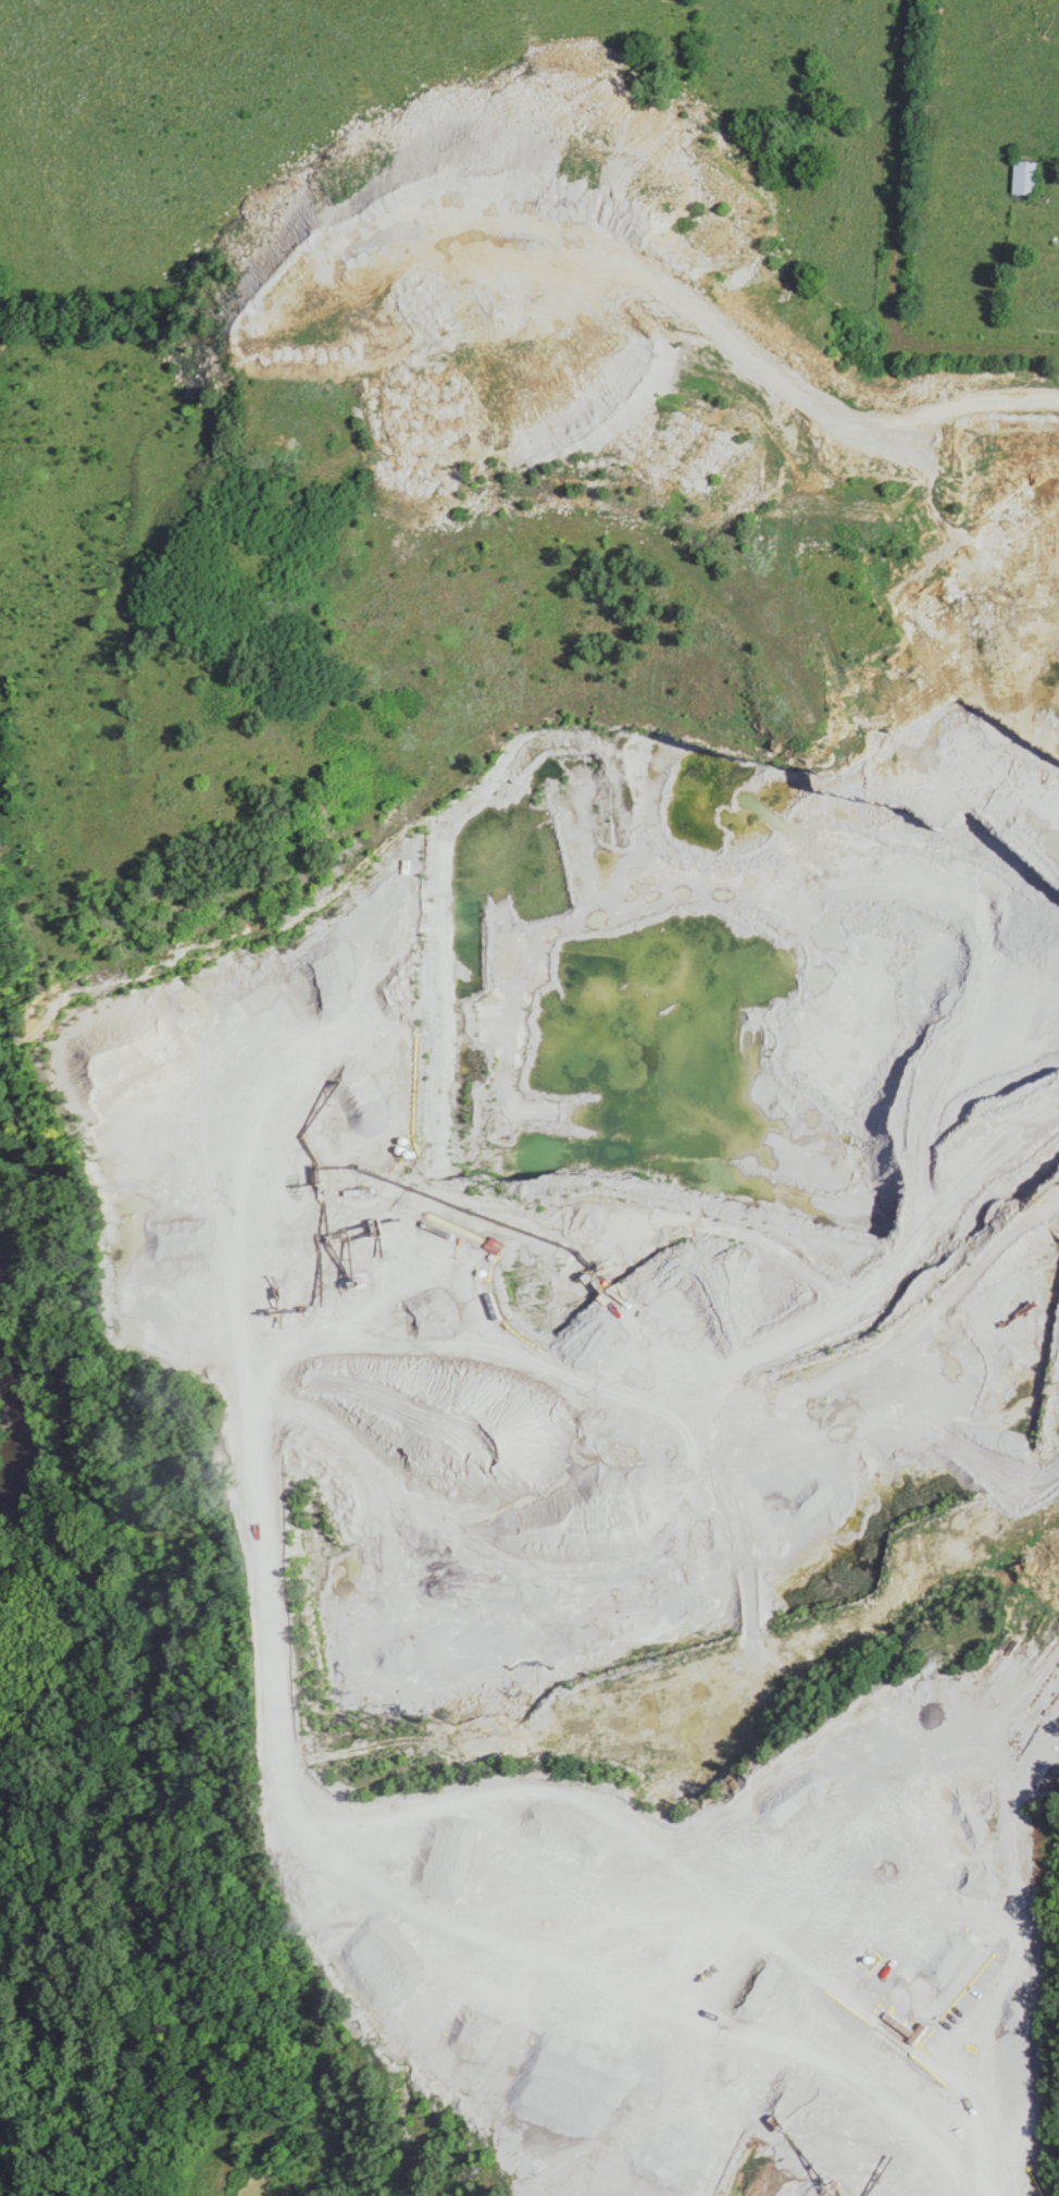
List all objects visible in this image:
road: (897, 173)
building: (1025, 177)
road: (975, 351)
road: (961, 1271)
river: (16, 1396)
road: (881, 1397)
building: (897, 2024)

